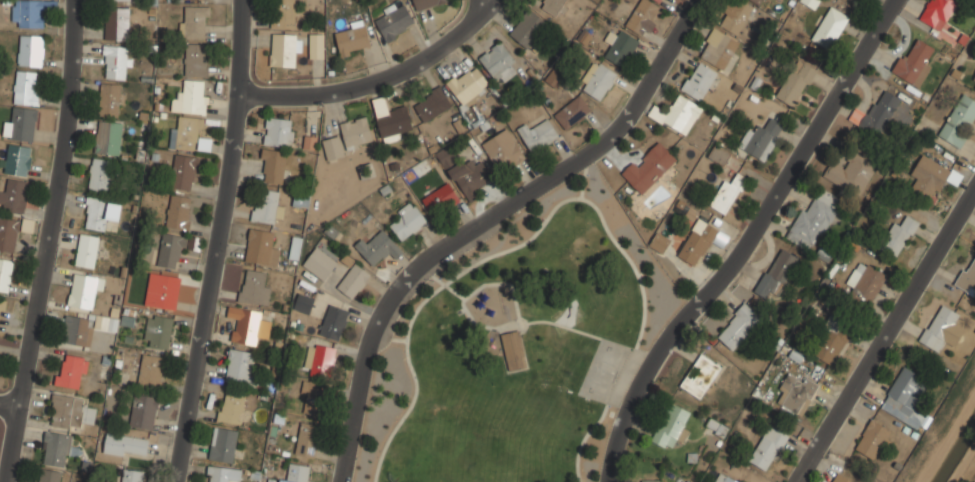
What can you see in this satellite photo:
building: (110, 0)
building: (597, 0)
building: (659, 1)
building: (757, 1)
building: (426, 3)
building: (811, 3)
road: (484, 4)
building: (552, 6)
building: (938, 10)
building: (31, 13)
building: (283, 14)
building: (735, 16)
building: (642, 20)
building: (194, 21)
building: (394, 21)
building: (117, 23)
building: (528, 27)
building: (830, 27)
building: (352, 39)
building: (621, 47)
building: (719, 48)
building: (284, 49)
building: (316, 49)
building: (30, 51)
building: (196, 60)
building: (117, 62)
building: (499, 62)
building: (914, 62)
building: (598, 79)
road: (382, 80)
building: (700, 81)
building: (796, 82)
building: (973, 83)
building: (469, 86)
building: (26, 87)
building: (109, 100)
building: (431, 105)
building: (573, 112)
building: (678, 113)
building: (876, 113)
building: (190, 116)
building: (959, 120)
building: (394, 123)
building: (22, 124)
building: (279, 132)
building: (356, 132)
building: (538, 135)
building: (109, 138)
building: (761, 138)
building: (334, 147)
building: (505, 153)
building: (719, 154)
building: (16, 160)
building: (274, 166)
building: (649, 166)
building: (184, 171)
building: (852, 171)
building: (101, 174)
building: (470, 177)
building: (931, 177)
road: (583, 178)
building: (728, 193)
building: (14, 195)
building: (440, 199)
building: (268, 207)
building: (179, 211)
road: (551, 211)
building: (100, 212)
building: (814, 219)
road: (484, 220)
building: (407, 221)
building: (8, 233)
building: (898, 236)
road: (221, 241)
building: (660, 241)
building: (698, 241)
road: (747, 241)
road: (56, 242)
building: (260, 246)
building: (378, 247)
building: (87, 250)
building: (171, 250)
building: (825, 254)
building: (319, 263)
building: (5, 273)
building: (778, 273)
building: (968, 277)
building: (354, 281)
road: (441, 282)
building: (864, 283)
building: (254, 287)
building: (84, 289)
building: (162, 290)
building: (303, 303)
building: (1, 307)
building: (333, 322)
building: (248, 324)
road: (507, 326)
building: (738, 326)
building: (942, 328)
building: (78, 330)
building: (158, 331)
road: (578, 331)
road: (388, 339)
road: (889, 343)
building: (829, 346)
park: (518, 348)
building: (514, 349)
building: (320, 357)
building: (239, 367)
building: (71, 371)
building: (151, 371)
park: (601, 373)
building: (700, 376)
building: (796, 394)
building: (314, 397)
building: (906, 397)
road: (8, 406)
building: (232, 407)
building: (70, 410)
building: (144, 411)
building: (672, 426)
building: (717, 427)
building: (872, 438)
building: (307, 439)
building: (223, 444)
building: (125, 445)
building: (57, 448)
building: (769, 448)
building: (297, 473)
building: (223, 474)
building: (47, 475)
building: (133, 475)
building: (842, 478)
building: (725, 479)
building: (651, 481)

